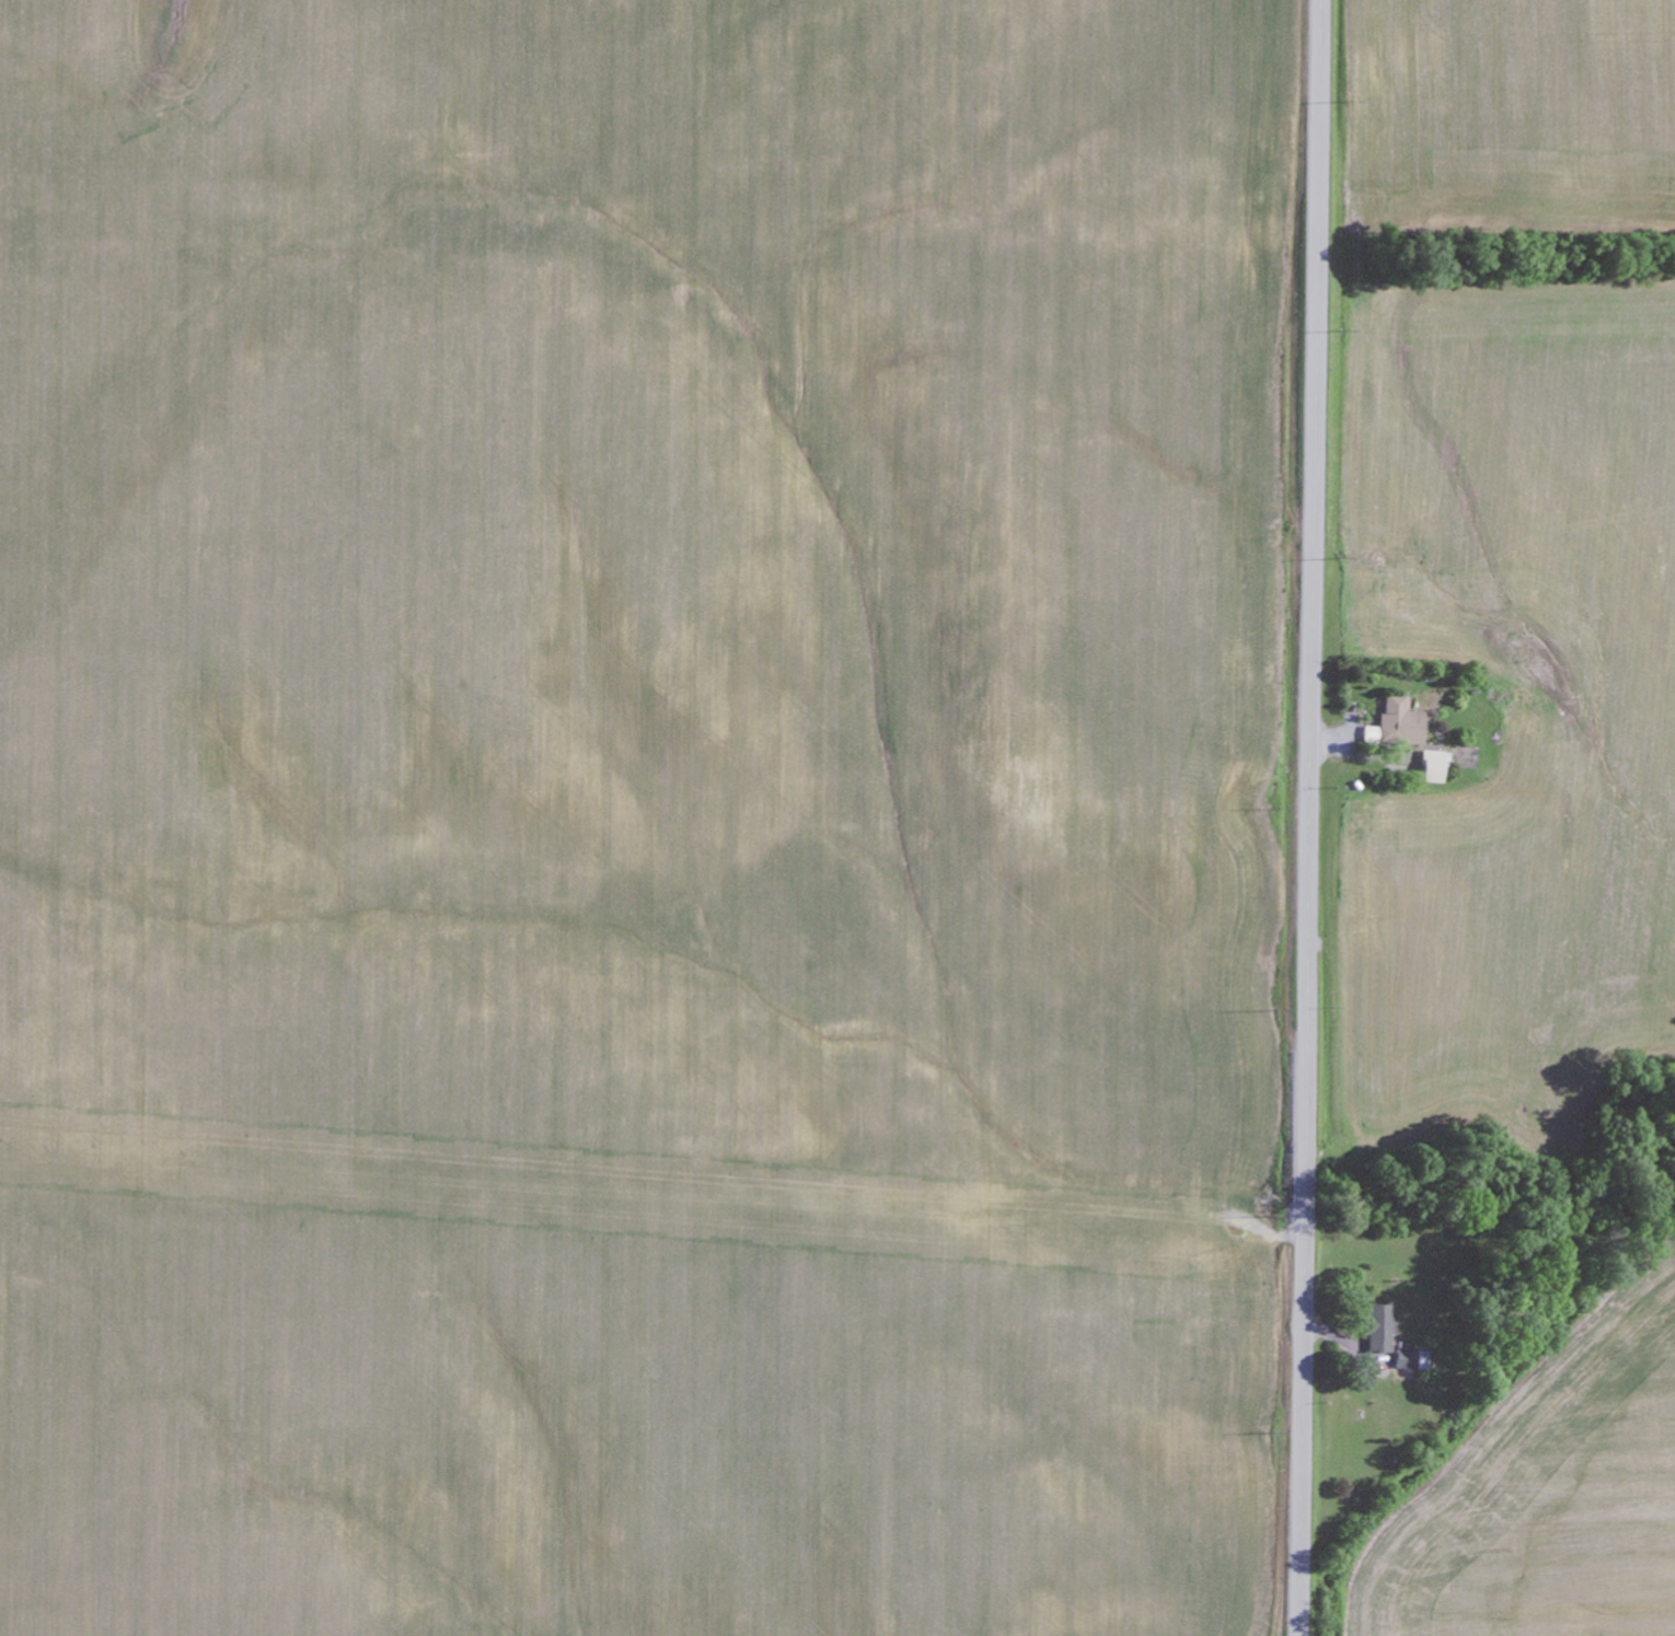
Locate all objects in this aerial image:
building: (1398, 723)
building: (1435, 766)
road: (1309, 817)
building: (1374, 1330)

